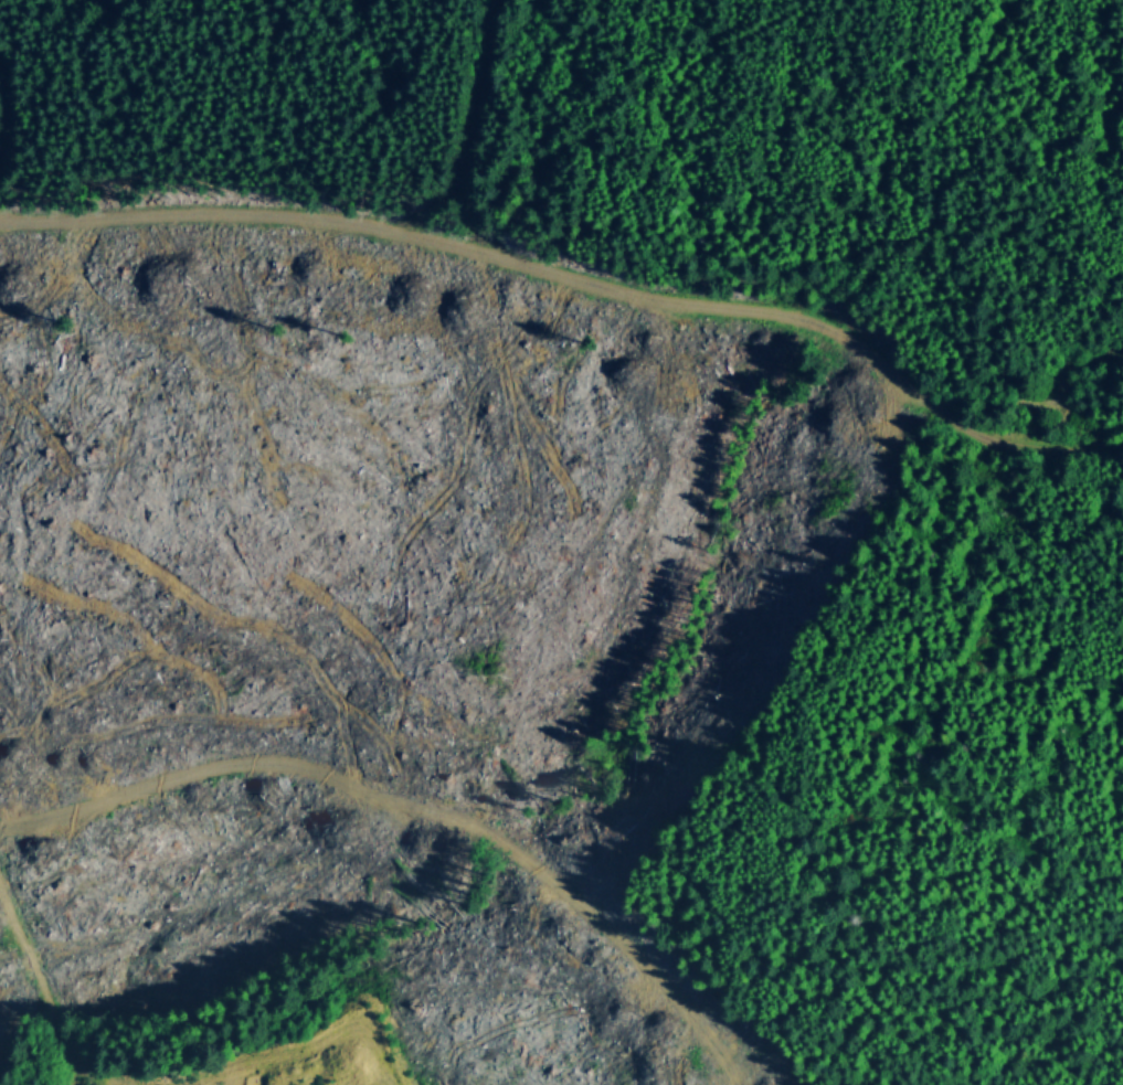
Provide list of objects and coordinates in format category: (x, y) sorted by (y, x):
road: (1, 111)
road: (475, 113)
road: (403, 804)
road: (42, 987)
quarry: (342, 1055)

